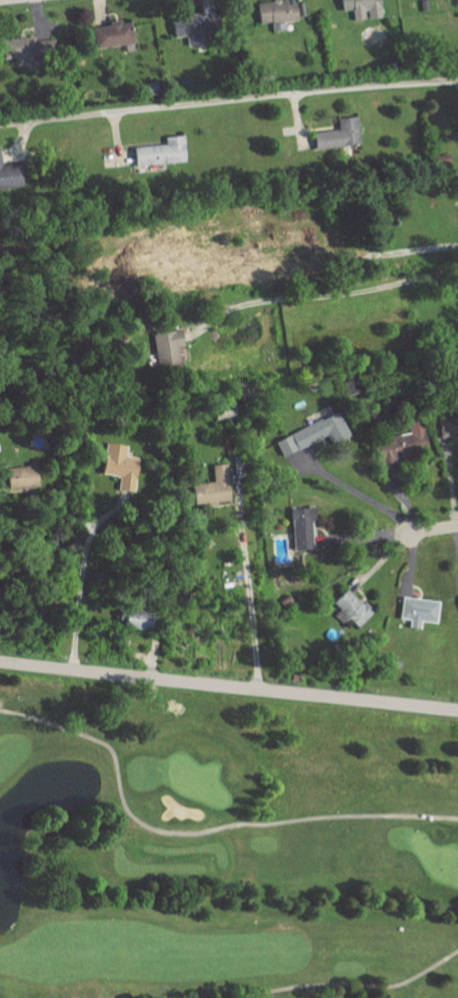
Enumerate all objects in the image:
building: (360, 8)
building: (274, 11)
building: (193, 26)
building: (113, 34)
road: (228, 100)
building: (337, 134)
building: (159, 152)
road: (324, 293)
building: (166, 347)
building: (447, 426)
building: (315, 433)
building: (399, 443)
building: (117, 466)
building: (19, 477)
building: (211, 487)
road: (360, 495)
building: (300, 528)
road: (432, 529)
road: (78, 585)
road: (248, 600)
building: (350, 609)
building: (417, 611)
building: (133, 618)
road: (228, 687)
road: (198, 829)
park: (223, 842)
road: (348, 983)

